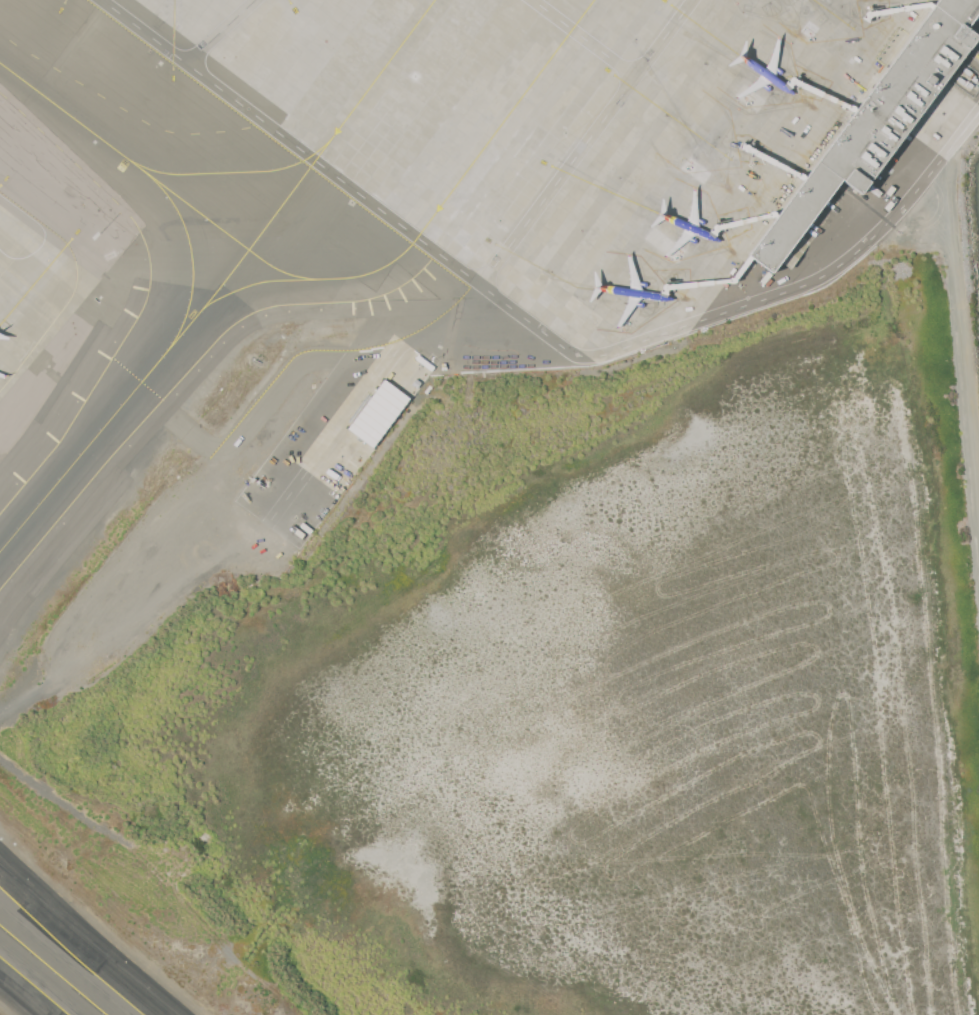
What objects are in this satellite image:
road: (218, 30)
road: (583, 37)
airport terminal: (875, 123)
building: (875, 123)
airport taxiway: (340, 124)
airport apron: (568, 130)
road: (584, 142)
airport taxiway: (124, 155)
road: (933, 160)
road: (935, 168)
airport taxiway: (231, 172)
airport taxiway: (435, 213)
road: (10, 216)
road: (388, 216)
airport taxiway: (191, 258)
airport taxiway: (278, 269)
road: (801, 284)
airport apron: (35, 286)
airport taxiway: (125, 400)
airport: (489, 507)
airport taxiway: (53, 970)

